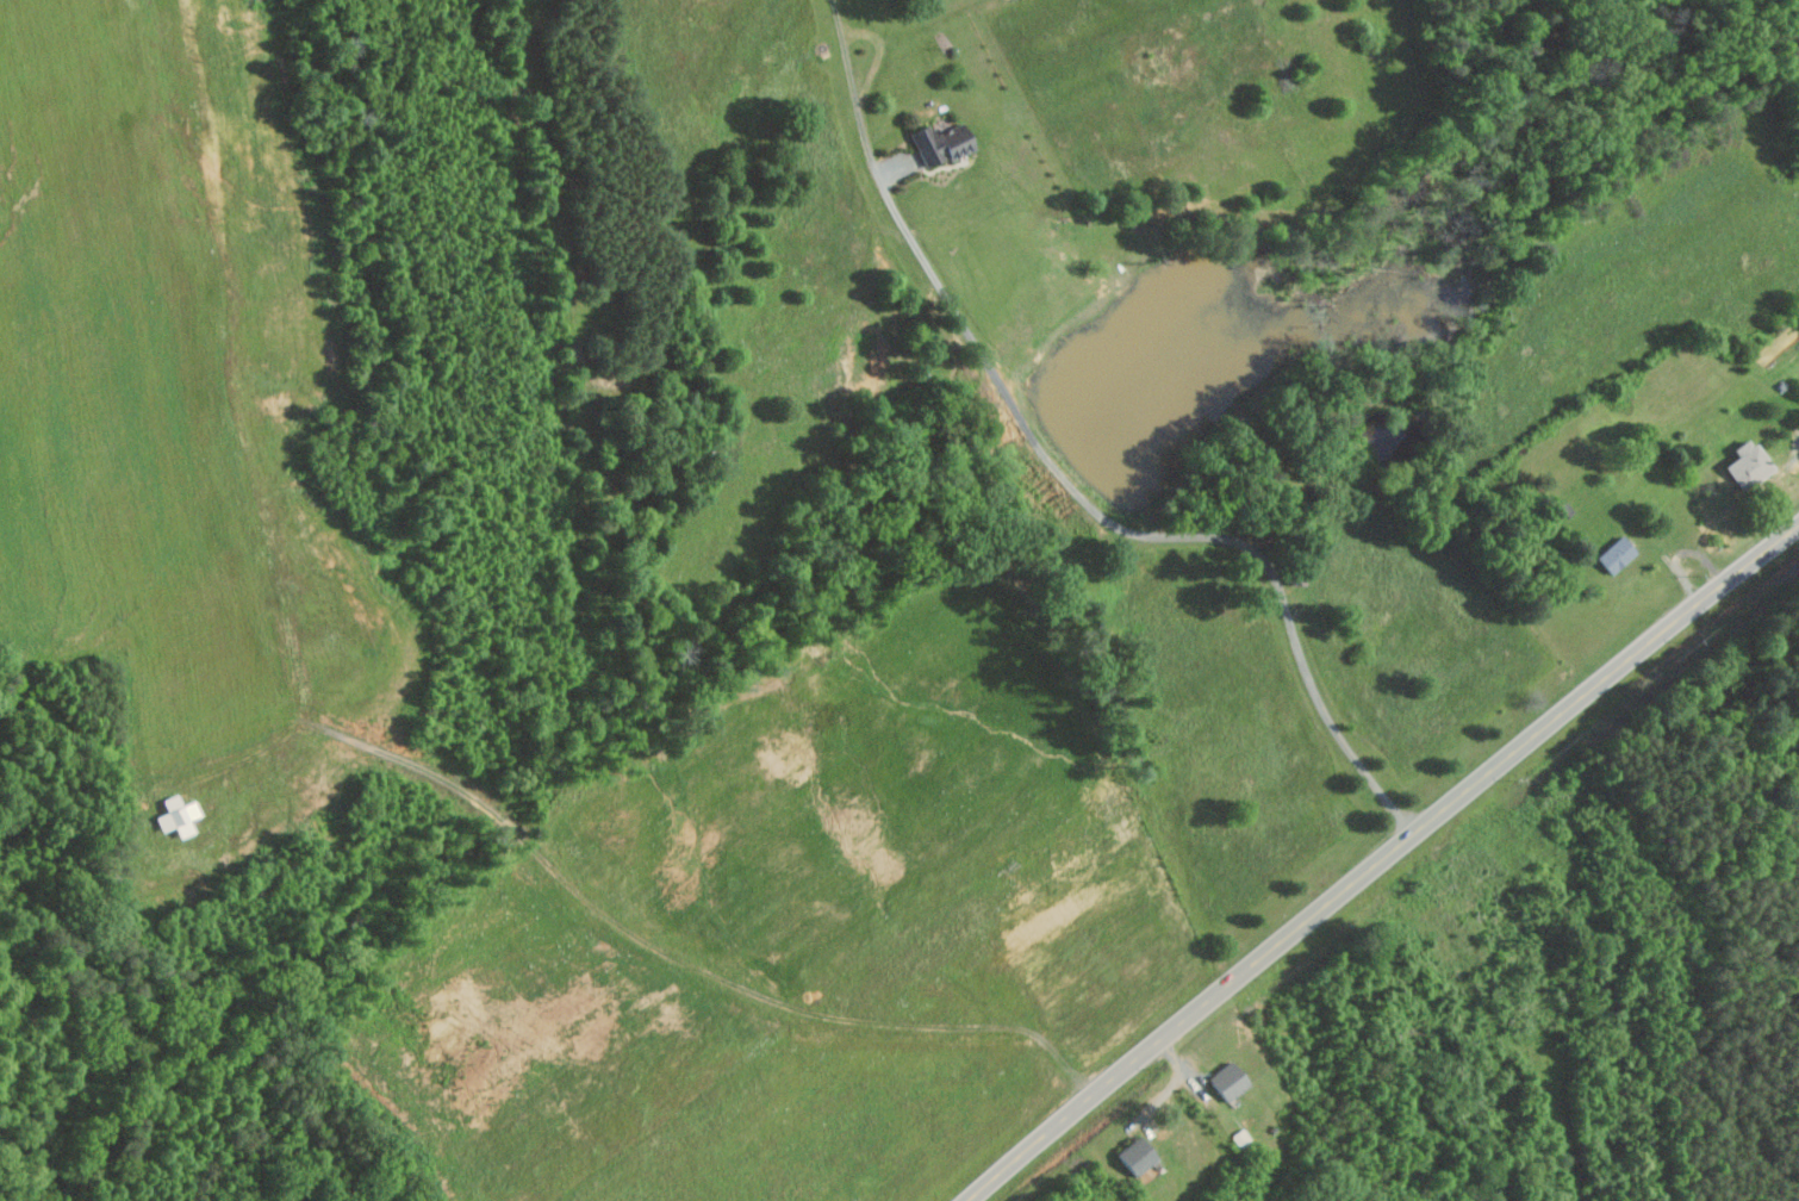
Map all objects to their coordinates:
building: (938, 143)
building: (1748, 463)
road: (1066, 483)
building: (1616, 553)
road: (406, 763)
building: (175, 815)
road: (506, 824)
road: (1377, 860)
road: (786, 1003)
building: (1227, 1081)
building: (1134, 1155)

